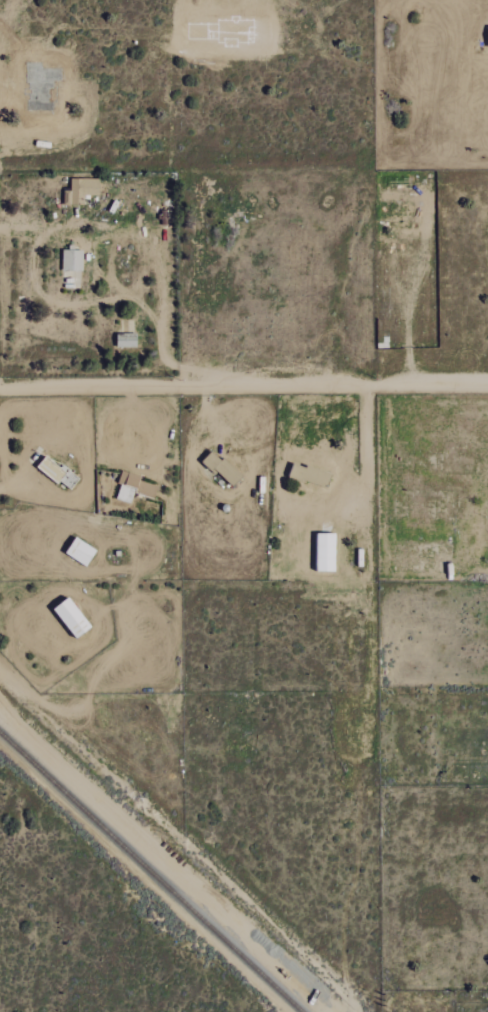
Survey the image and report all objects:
building: (80, 190)
road: (154, 253)
building: (72, 260)
road: (409, 293)
building: (126, 340)
road: (244, 384)
road: (368, 450)
building: (221, 467)
building: (51, 470)
building: (133, 488)
building: (81, 551)
building: (326, 552)
building: (72, 617)
railway: (151, 871)

